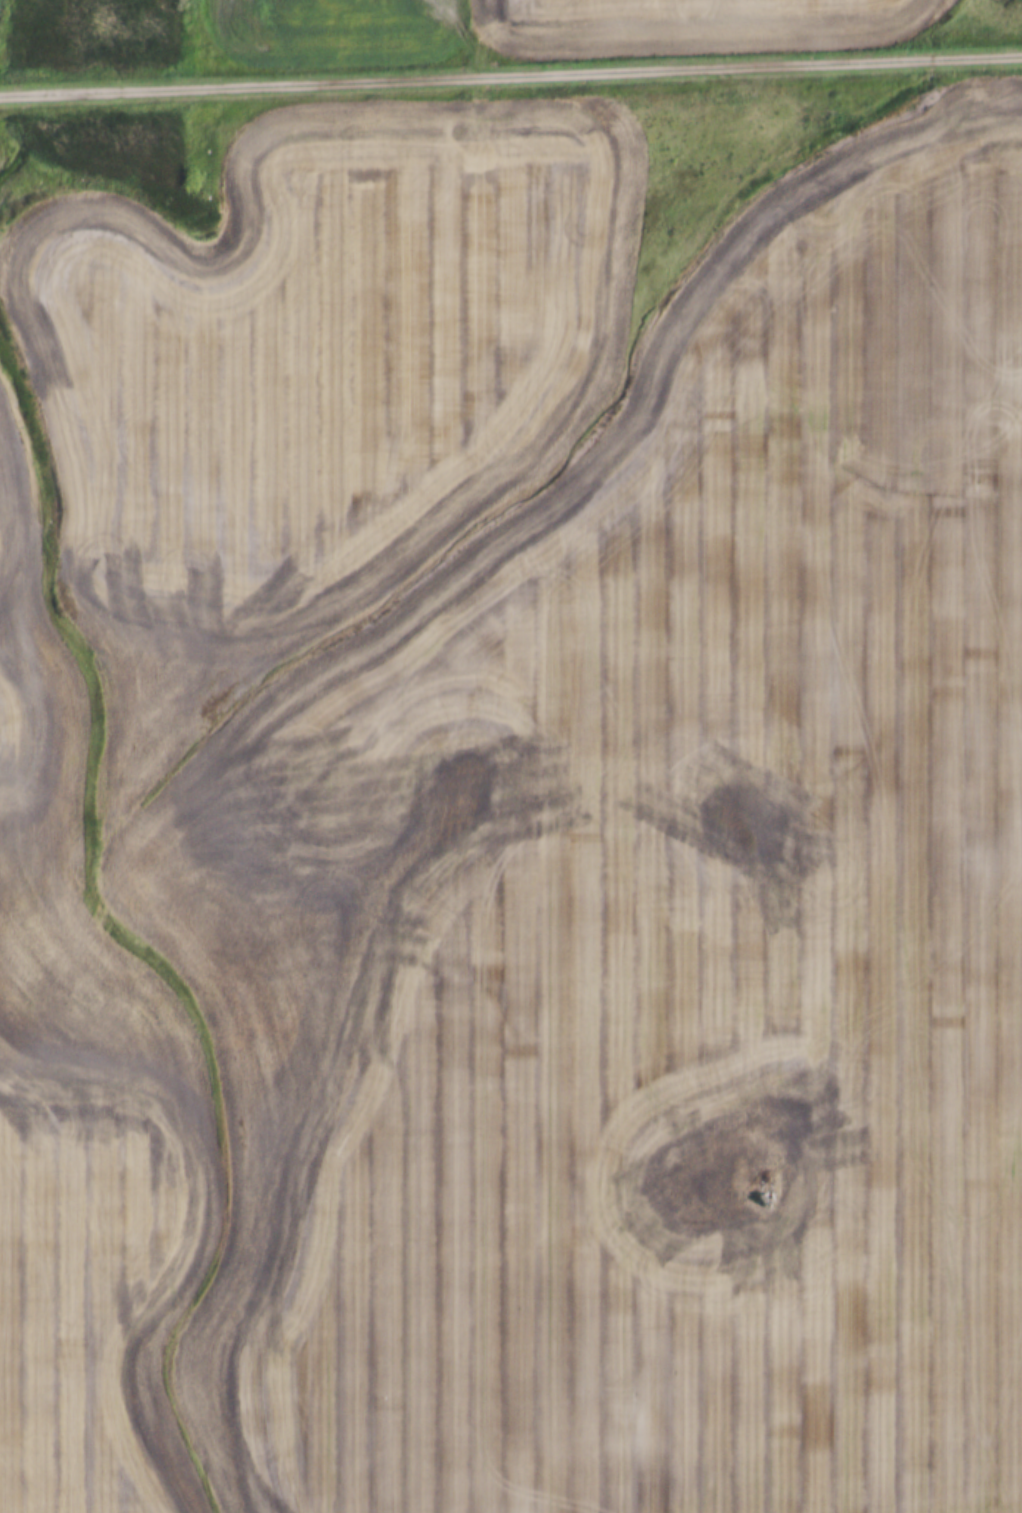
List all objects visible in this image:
road: (510, 71)

